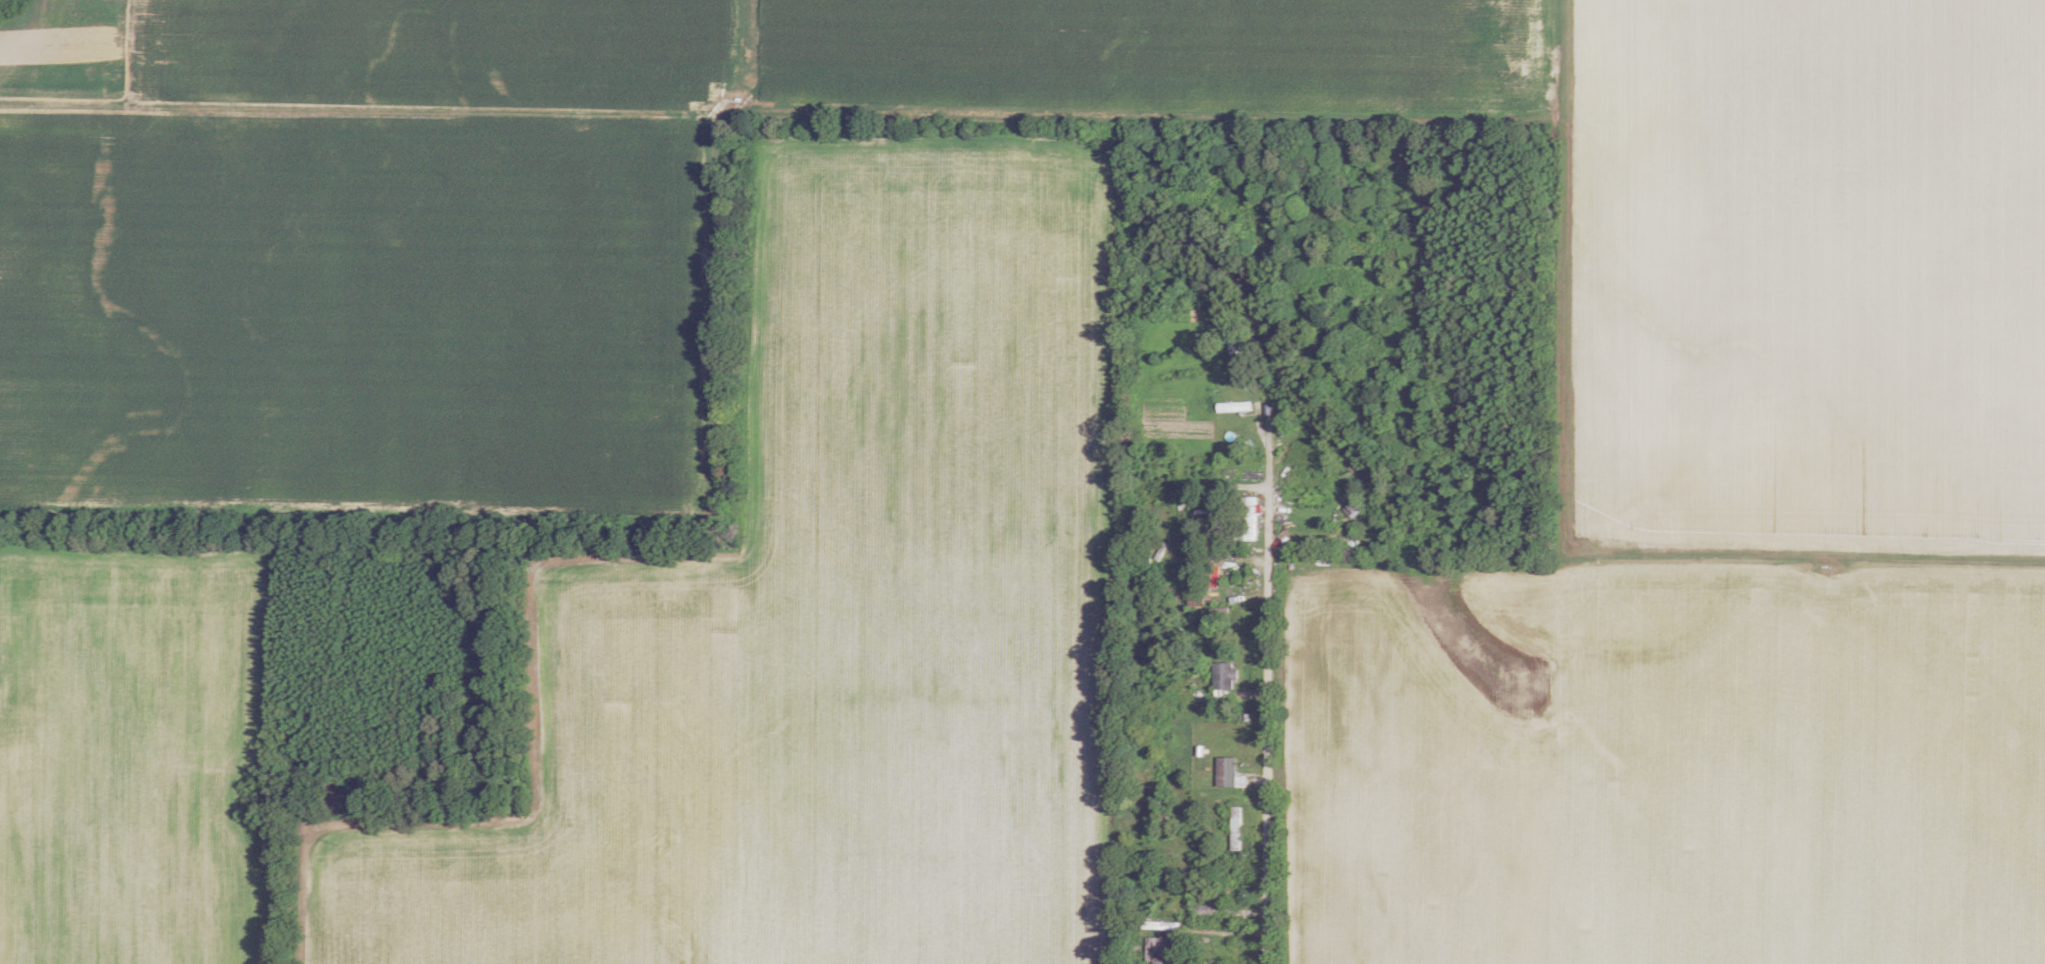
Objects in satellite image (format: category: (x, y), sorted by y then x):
road: (359, 123)
building: (1213, 322)
building: (1222, 340)
building: (1249, 384)
building: (1248, 515)
building: (1194, 600)
building: (1222, 675)
road: (1267, 677)
building: (1224, 771)
building: (1153, 869)
building: (1229, 881)
road: (1187, 900)
building: (1203, 911)
building: (1158, 925)
building: (1157, 950)

